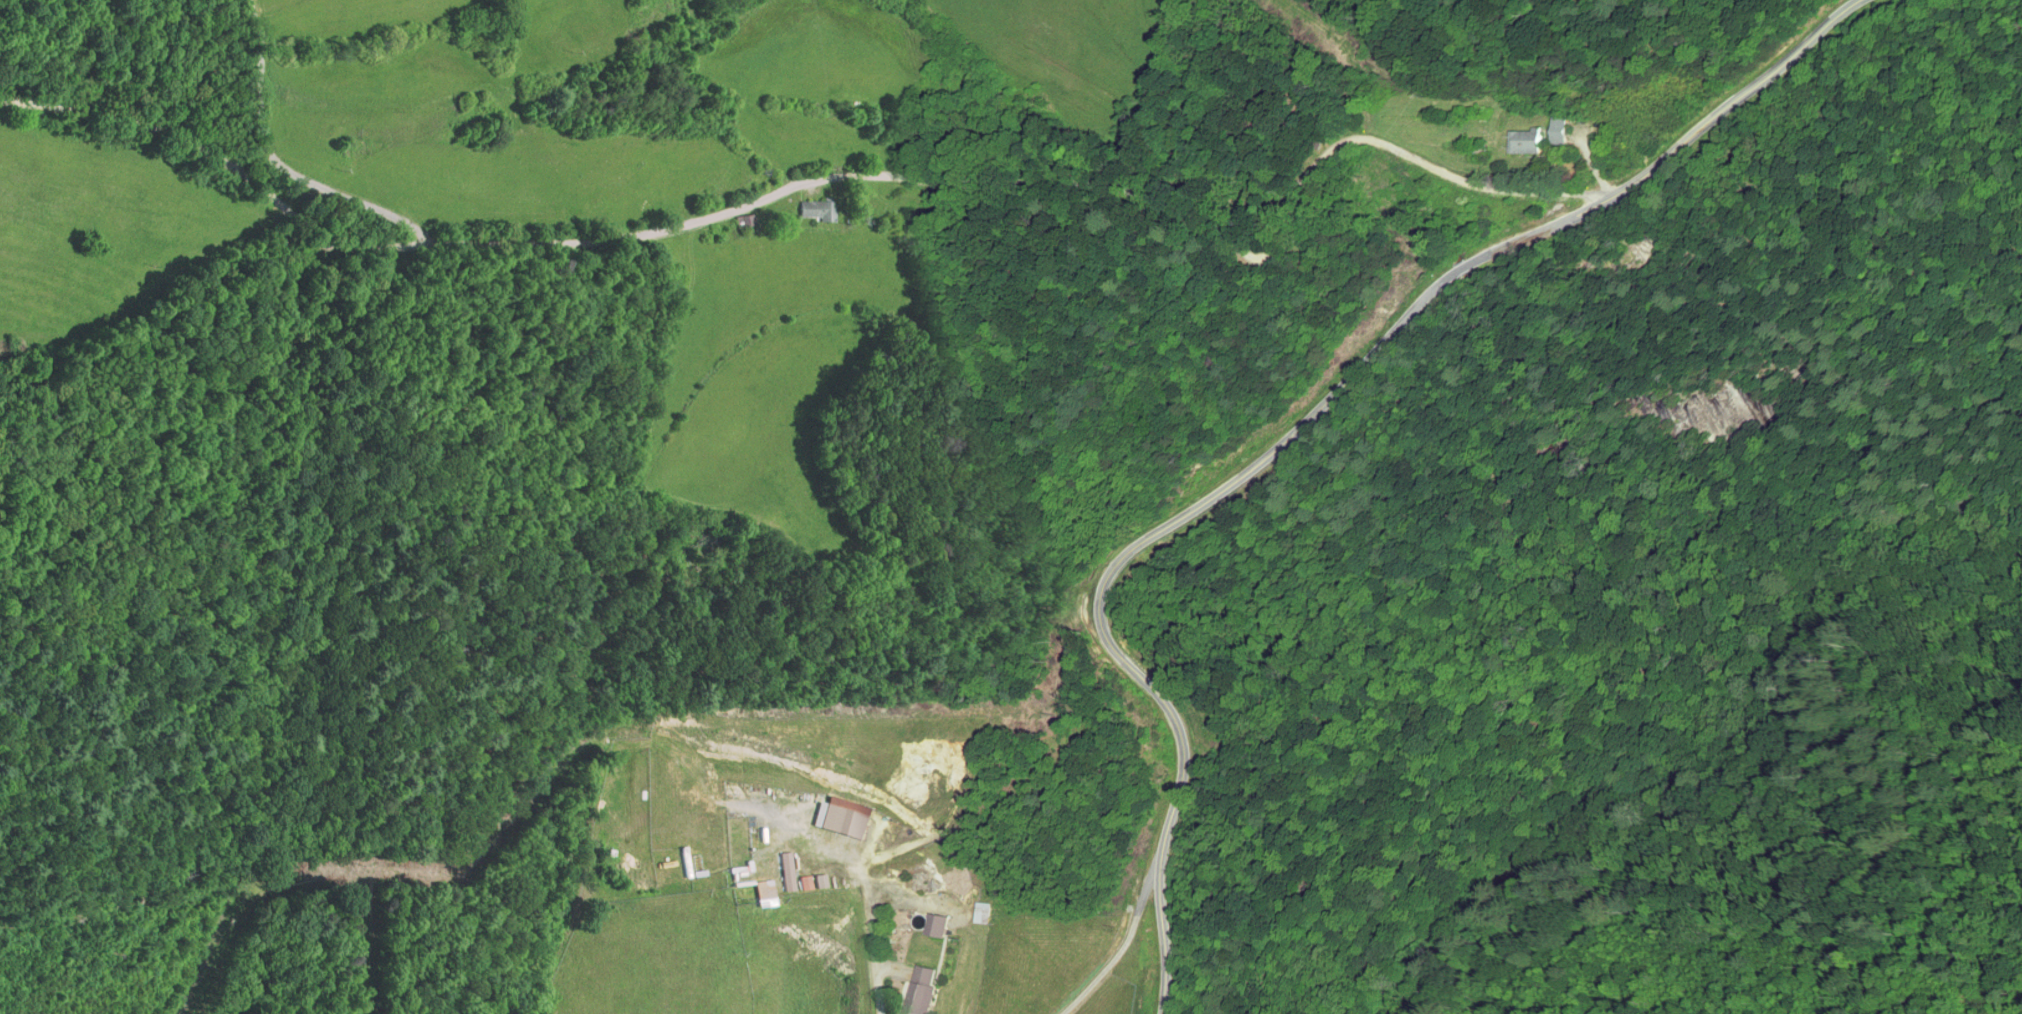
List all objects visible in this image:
road: (1734, 103)
building: (1559, 130)
building: (1525, 141)
road: (282, 165)
road: (833, 178)
building: (817, 210)
building: (746, 222)
road: (1170, 523)
building: (849, 817)
building: (763, 889)
building: (981, 914)
building: (936, 924)
road: (874, 935)
road: (1128, 939)
building: (919, 990)

